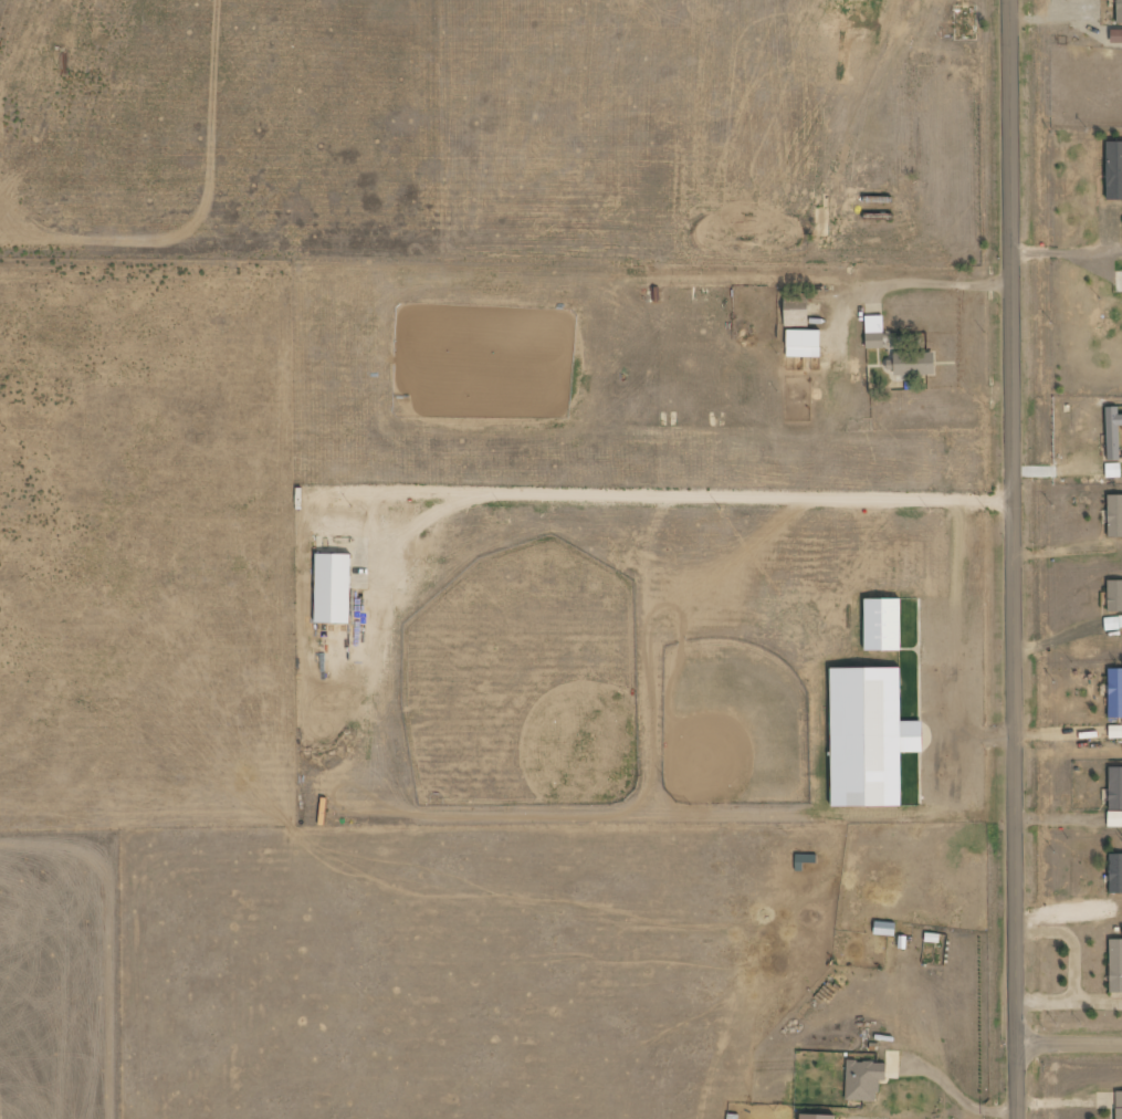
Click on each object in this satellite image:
building: (1120, 11)
building: (1114, 169)
building: (797, 316)
building: (875, 332)
building: (805, 343)
building: (914, 363)
building: (1114, 432)
building: (1113, 470)
building: (1115, 515)
road: (1014, 558)
building: (335, 588)
building: (1114, 595)
building: (1113, 623)
building: (885, 624)
building: (1115, 693)
building: (1115, 731)
building: (872, 736)
building: (1115, 796)
building: (805, 860)
building: (1115, 872)
building: (1116, 965)
road: (1070, 1040)
building: (864, 1080)
building: (1119, 1105)
building: (819, 1117)

